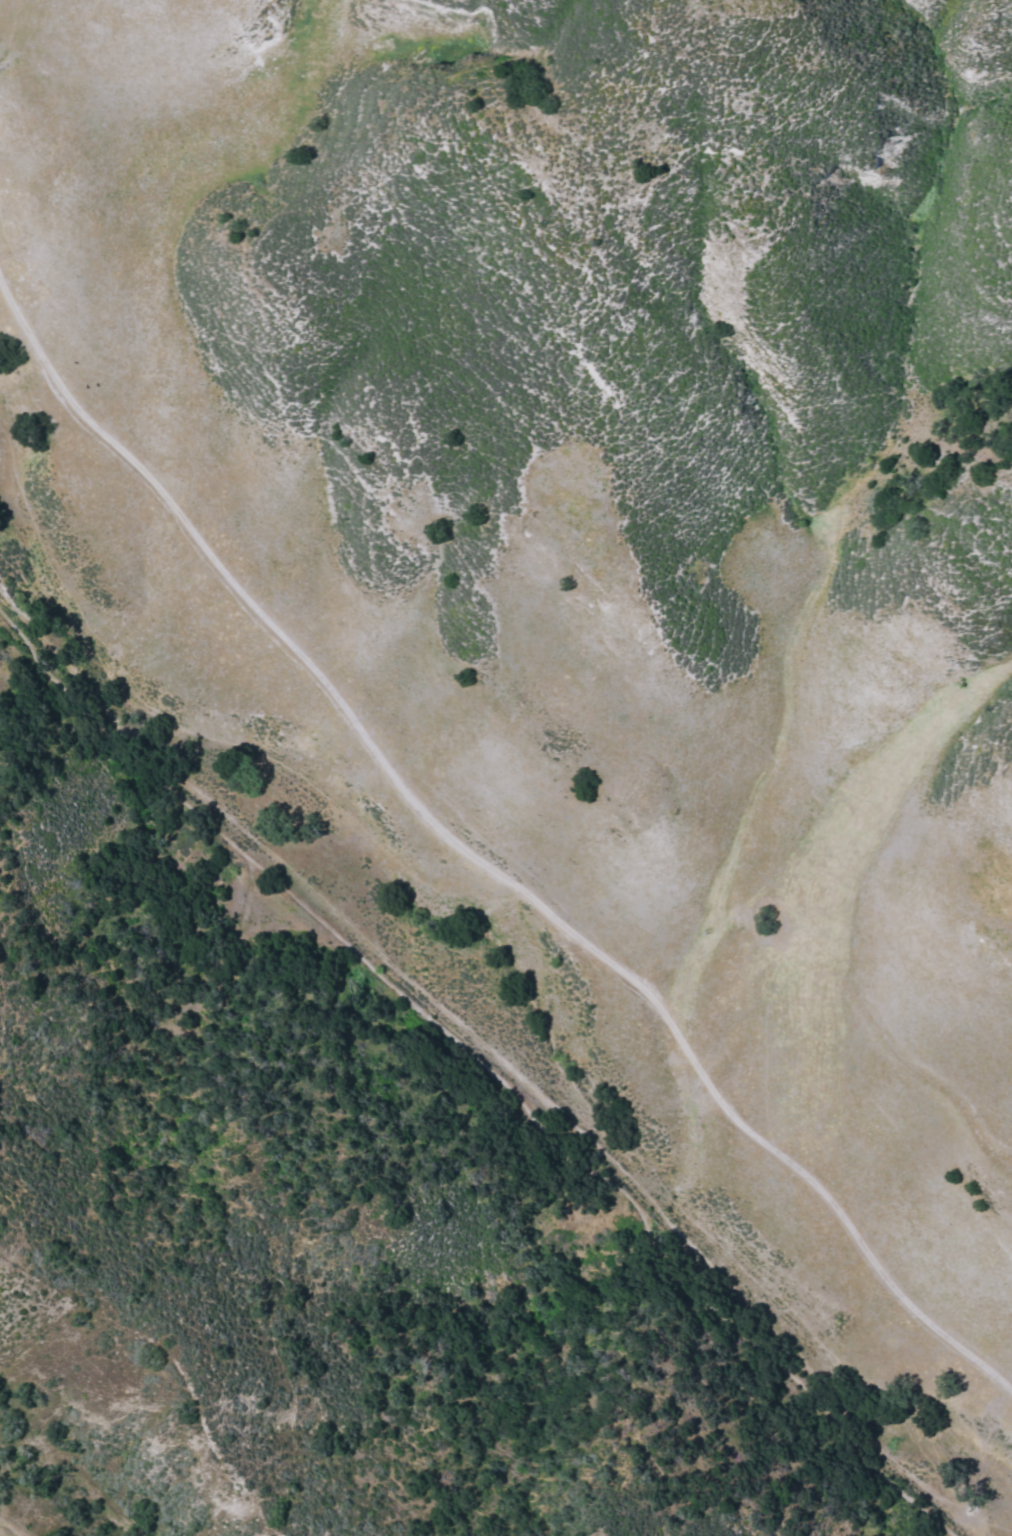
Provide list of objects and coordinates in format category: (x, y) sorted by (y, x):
road: (477, 857)
road: (207, 1224)

